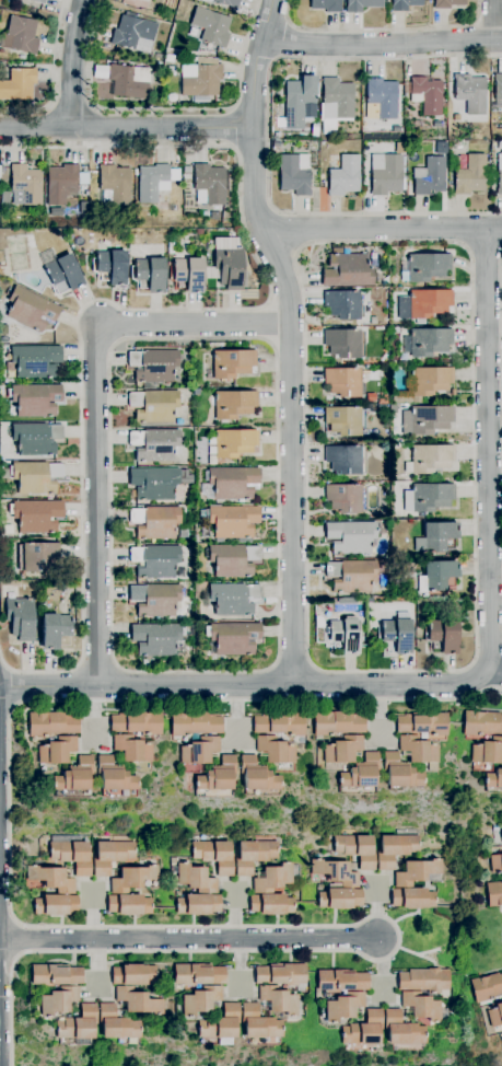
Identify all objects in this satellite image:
building: (40, 1)
building: (225, 2)
building: (447, 3)
building: (326, 4)
building: (362, 4)
building: (404, 4)
road: (493, 21)
building: (211, 26)
road: (380, 28)
building: (133, 33)
building: (20, 35)
road: (382, 45)
building: (168, 58)
road: (73, 63)
road: (54, 77)
building: (201, 78)
building: (126, 79)
building: (17, 84)
building: (498, 89)
building: (470, 93)
building: (427, 94)
building: (382, 99)
building: (299, 100)
building: (336, 103)
road: (93, 106)
road: (50, 107)
road: (71, 108)
road: (165, 109)
road: (231, 109)
building: (418, 124)
building: (315, 127)
road: (126, 128)
road: (232, 128)
road: (268, 135)
building: (401, 142)
building: (275, 143)
building: (499, 144)
road: (231, 146)
building: (297, 169)
building: (2, 170)
building: (186, 170)
building: (385, 174)
building: (499, 174)
building: (185, 175)
building: (345, 175)
building: (470, 175)
building: (430, 176)
building: (154, 182)
building: (63, 183)
building: (116, 183)
building: (209, 184)
building: (25, 185)
road: (382, 228)
building: (197, 231)
building: (110, 266)
building: (229, 266)
building: (427, 266)
building: (346, 270)
building: (63, 274)
building: (188, 274)
building: (149, 275)
building: (428, 303)
building: (343, 304)
building: (31, 309)
road: (148, 310)
road: (292, 337)
building: (429, 341)
building: (343, 343)
building: (35, 361)
building: (231, 363)
building: (154, 366)
building: (345, 382)
building: (425, 384)
building: (34, 399)
building: (234, 404)
building: (154, 405)
road: (96, 407)
building: (427, 419)
building: (345, 420)
building: (36, 438)
building: (234, 442)
building: (154, 444)
building: (400, 444)
road: (488, 451)
building: (345, 459)
building: (430, 459)
building: (36, 477)
building: (154, 483)
building: (233, 483)
building: (428, 497)
building: (346, 498)
building: (383, 512)
building: (37, 515)
building: (232, 521)
building: (155, 522)
building: (439, 535)
building: (351, 536)
building: (37, 556)
building: (233, 559)
building: (155, 561)
building: (179, 570)
building: (351, 576)
building: (436, 576)
building: (155, 599)
building: (233, 599)
building: (347, 600)
building: (21, 617)
building: (55, 630)
building: (397, 634)
building: (345, 635)
building: (443, 636)
building: (233, 637)
building: (156, 638)
road: (475, 646)
road: (278, 649)
road: (488, 657)
road: (1, 661)
road: (292, 661)
road: (96, 663)
road: (491, 674)
road: (275, 683)
road: (314, 683)
road: (241, 685)
road: (452, 685)
road: (66, 686)
road: (130, 686)
road: (14, 687)
road: (4, 721)
building: (137, 722)
building: (194, 722)
building: (482, 722)
building: (51, 723)
building: (337, 723)
building: (422, 723)
building: (279, 725)
building: (132, 749)
building: (342, 749)
building: (56, 750)
building: (275, 750)
building: (418, 750)
building: (487, 751)
building: (199, 752)
building: (361, 772)
building: (399, 772)
building: (218, 775)
building: (257, 775)
building: (74, 776)
building: (114, 776)
building: (493, 778)
building: (357, 849)
building: (395, 849)
building: (112, 855)
building: (254, 855)
building: (72, 856)
building: (214, 856)
building: (495, 864)
building: (336, 872)
building: (418, 872)
building: (273, 878)
building: (50, 879)
building: (132, 879)
building: (196, 879)
building: (493, 893)
building: (339, 899)
building: (412, 899)
building: (56, 904)
building: (129, 904)
building: (198, 904)
building: (271, 904)
road: (7, 915)
road: (115, 926)
road: (187, 938)
road: (7, 960)
road: (381, 967)
building: (55, 974)
building: (132, 974)
building: (198, 974)
building: (281, 974)
building: (341, 980)
building: (423, 980)
building: (486, 987)
building: (501, 996)
building: (279, 999)
building: (58, 1000)
building: (138, 1000)
building: (201, 1000)
building: (343, 1006)
building: (421, 1006)
building: (494, 1015)
building: (78, 1023)
building: (116, 1023)
building: (221, 1023)
building: (258, 1023)
building: (363, 1029)
building: (402, 1030)

